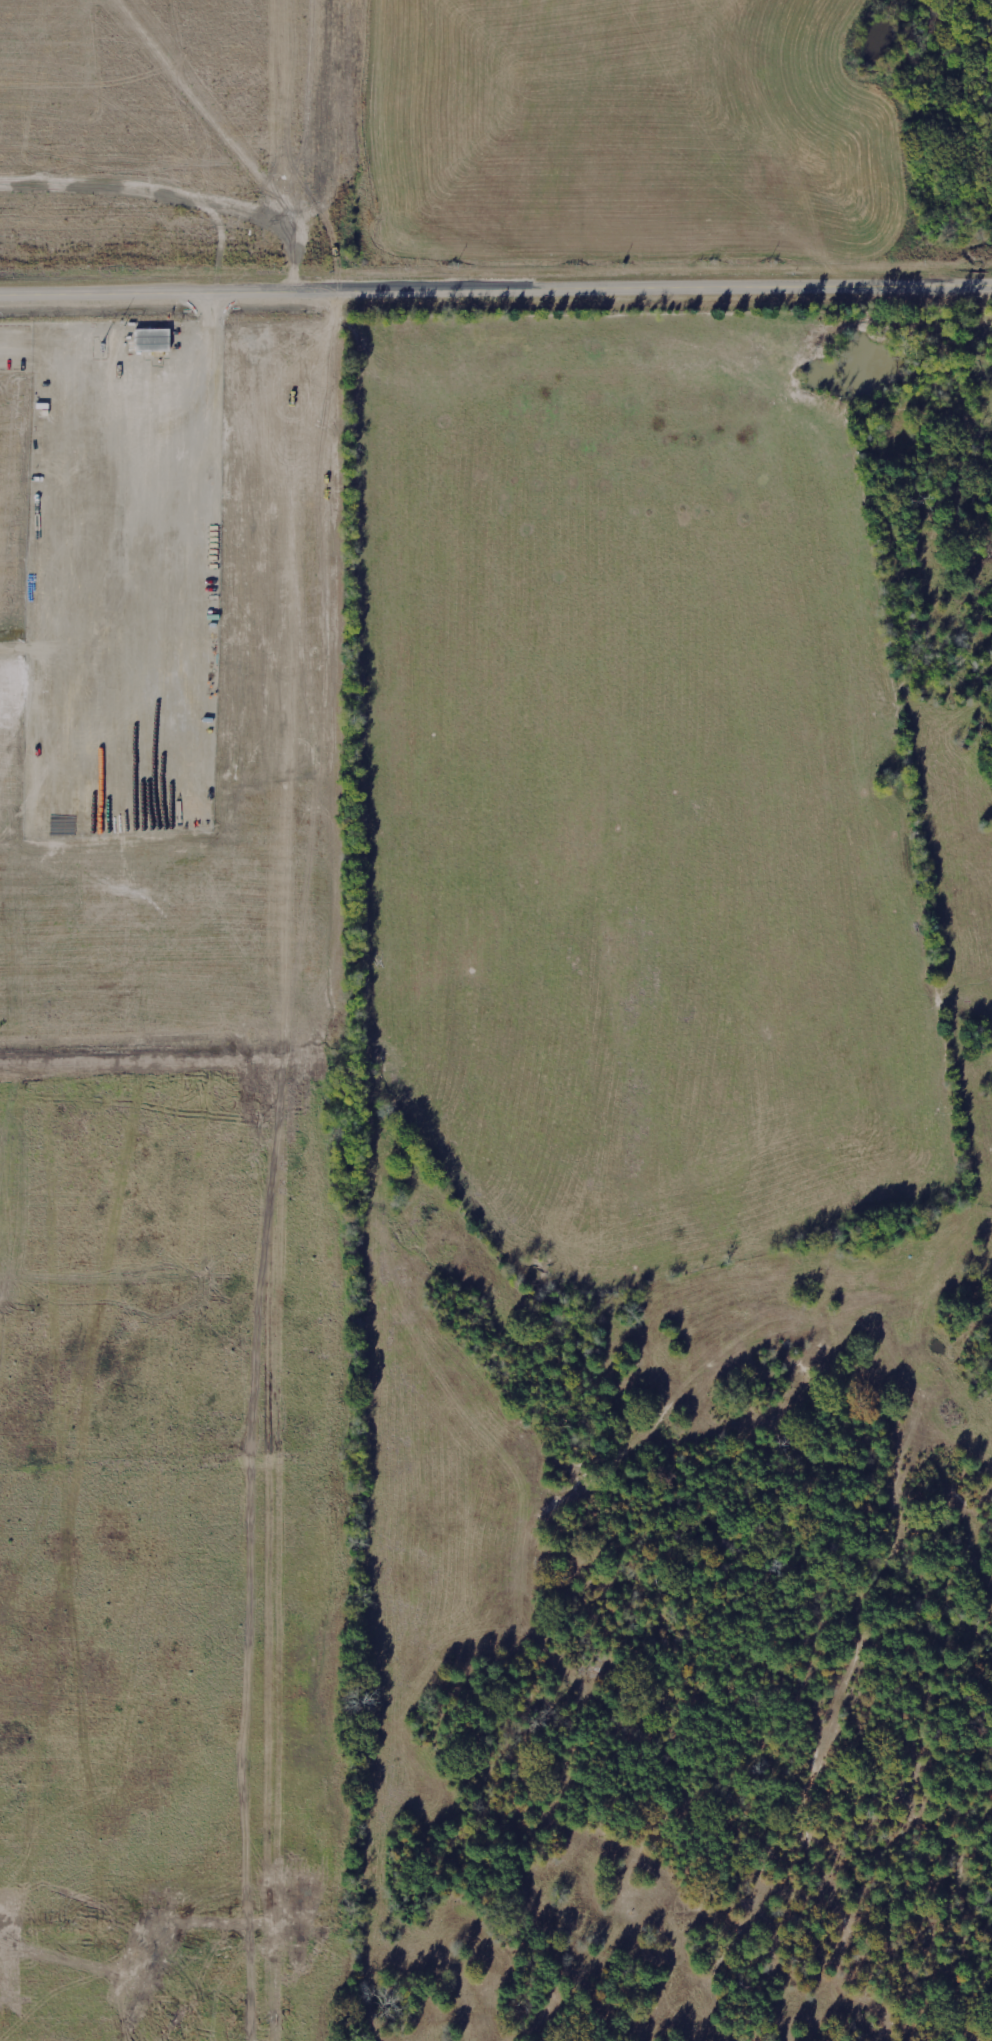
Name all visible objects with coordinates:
road: (496, 291)

